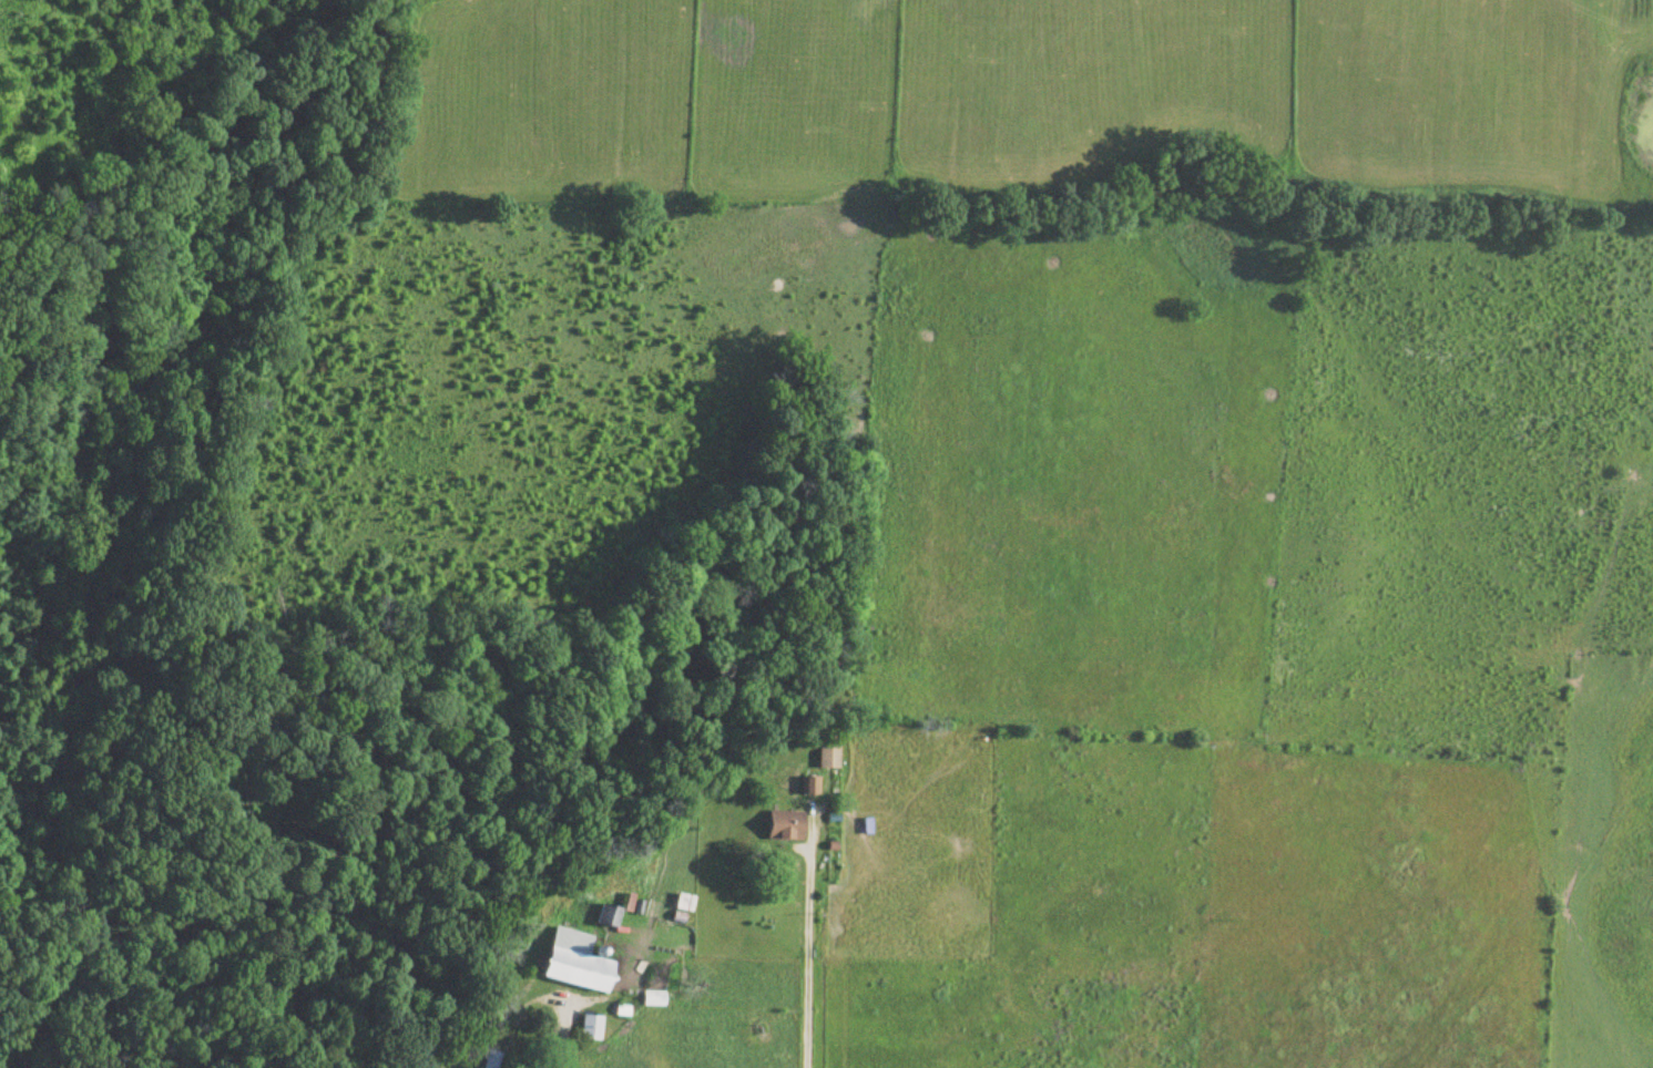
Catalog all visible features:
crop: (1009, 104)
crop: (1183, 660)
road: (1524, 738)
building: (828, 753)
building: (809, 788)
building: (786, 828)
building: (609, 917)
building: (578, 963)
road: (806, 967)
building: (655, 1000)
building: (593, 1029)
road: (563, 1038)
building: (491, 1059)

